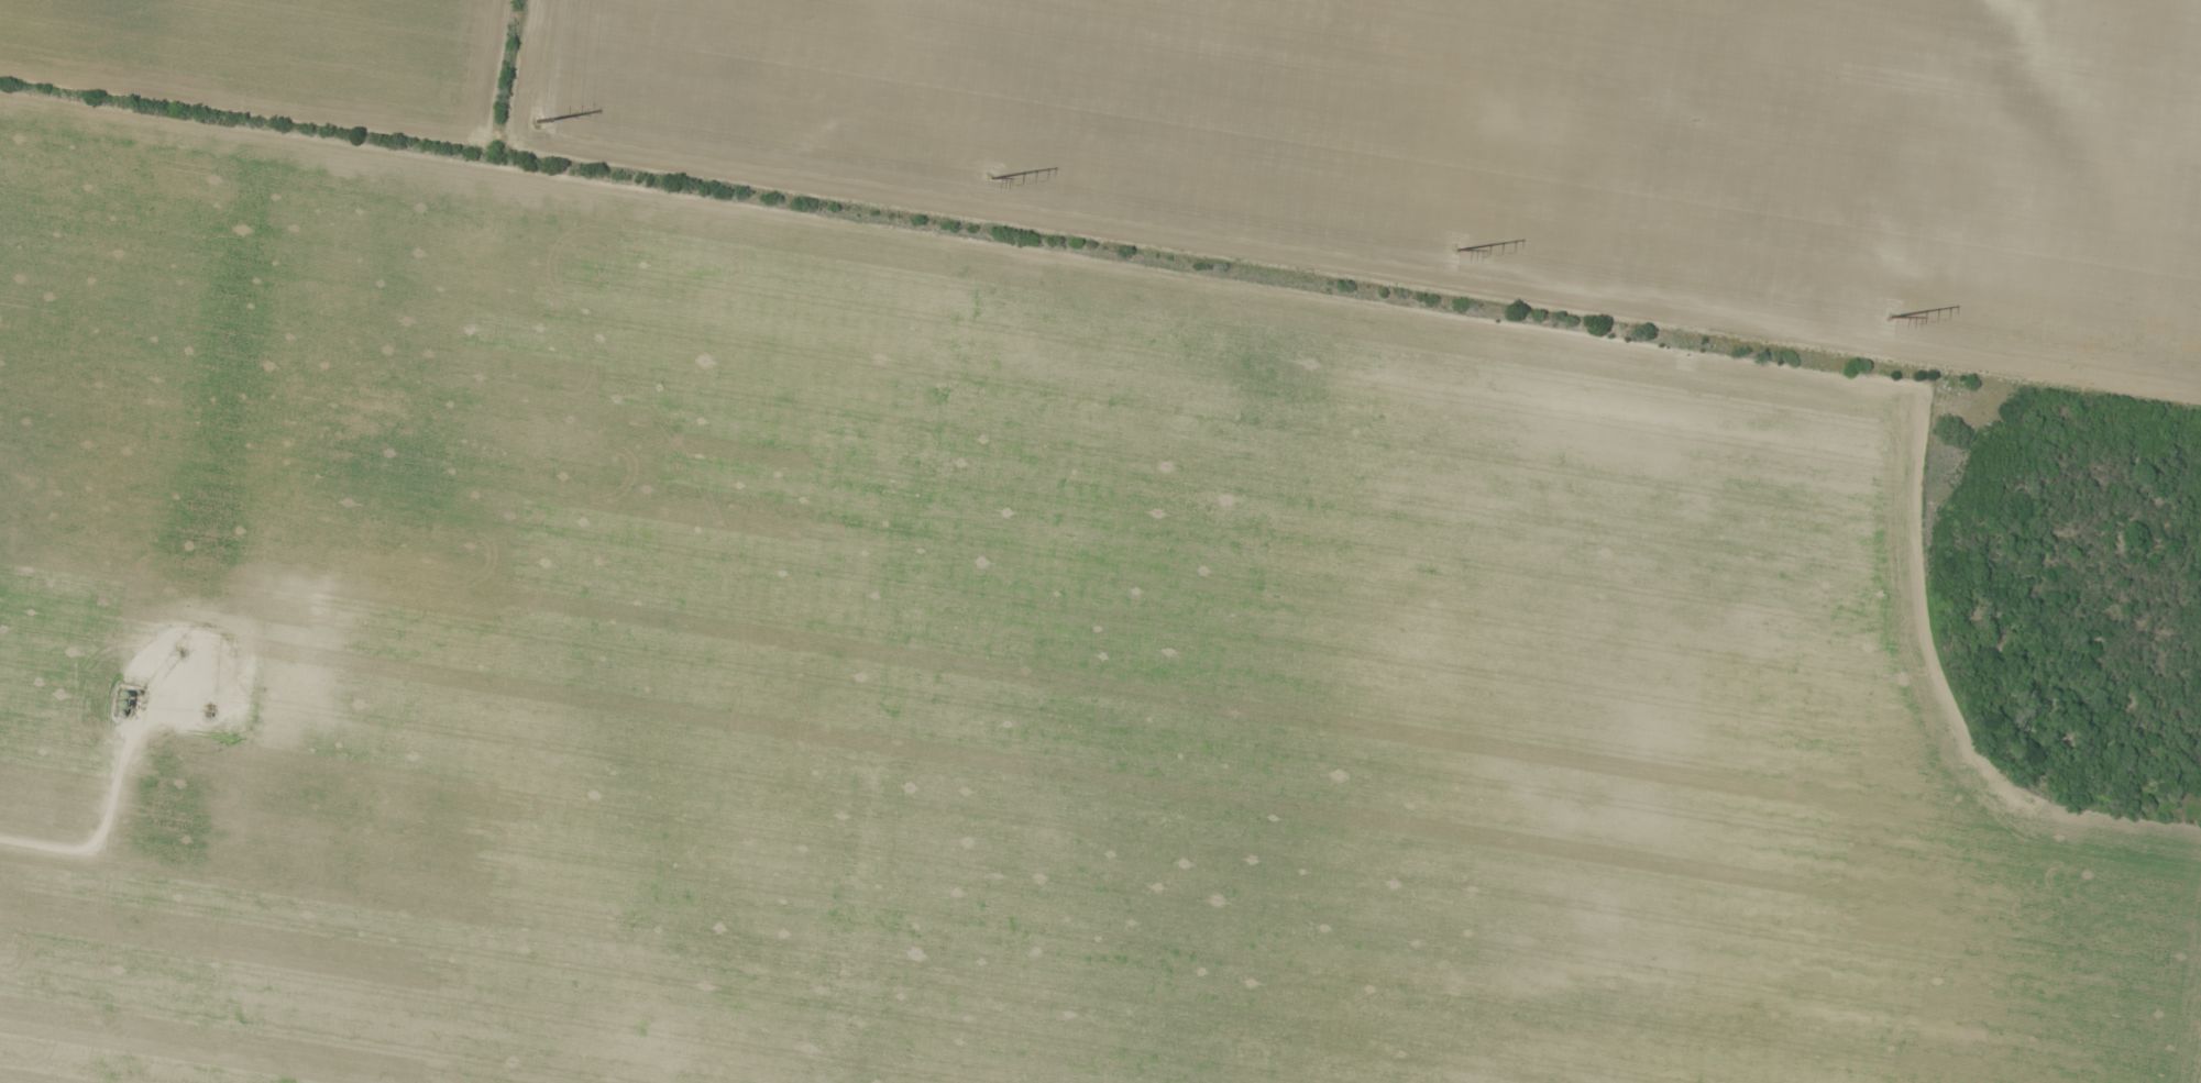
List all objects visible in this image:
power tower: (538, 121)
power tower: (992, 177)
power tower: (1457, 248)
power tower: (1892, 317)

